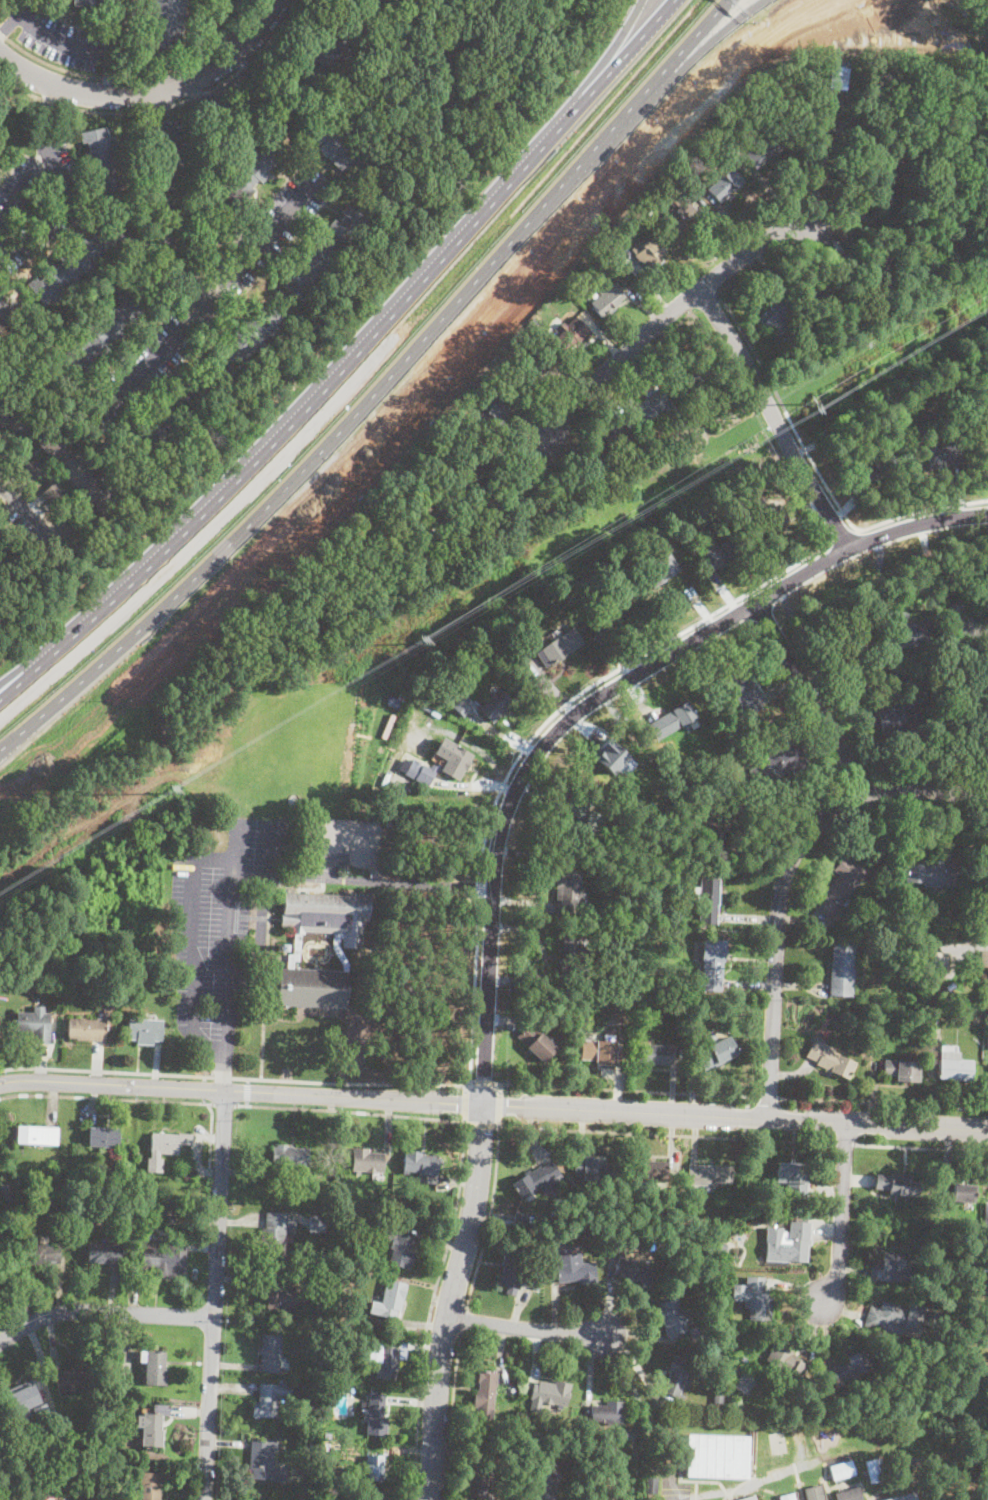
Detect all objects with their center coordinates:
building: (86, 2)
building: (163, 23)
road: (9, 26)
parking lot: (62, 37)
road: (709, 41)
road: (61, 43)
building: (332, 54)
building: (835, 54)
road: (244, 62)
road: (598, 62)
road: (245, 67)
road: (110, 74)
building: (837, 76)
road: (136, 77)
road: (229, 91)
road: (197, 92)
road: (152, 96)
building: (34, 101)
road: (71, 107)
road: (159, 109)
road: (44, 116)
building: (837, 129)
building: (337, 147)
building: (763, 151)
building: (101, 164)
building: (896, 166)
building: (676, 168)
road: (52, 176)
building: (242, 180)
building: (726, 184)
parking lot: (56, 205)
road: (167, 206)
building: (679, 212)
parking lot: (267, 231)
building: (324, 252)
building: (647, 252)
building: (76, 263)
building: (605, 265)
building: (878, 268)
building: (817, 291)
building: (0, 295)
road: (209, 300)
building: (607, 300)
building: (7, 312)
road: (670, 315)
building: (774, 315)
building: (532, 319)
building: (571, 334)
building: (97, 338)
building: (245, 342)
road: (348, 357)
building: (790, 357)
parking lot: (139, 370)
building: (533, 371)
building: (695, 376)
building: (867, 390)
road: (378, 391)
building: (976, 394)
power tower: (809, 399)
building: (651, 406)
road: (784, 408)
building: (939, 409)
building: (172, 414)
building: (494, 415)
building: (13, 416)
road: (774, 421)
building: (613, 435)
building: (983, 437)
building: (3, 440)
road: (804, 447)
building: (941, 455)
building: (872, 465)
building: (33, 468)
building: (471, 470)
building: (75, 472)
building: (734, 477)
building: (54, 493)
road: (850, 501)
building: (418, 505)
road: (23, 509)
road: (530, 509)
road: (922, 511)
building: (770, 514)
building: (76, 516)
building: (41, 526)
road: (840, 536)
building: (418, 538)
building: (661, 542)
building: (719, 553)
building: (603, 563)
park: (16, 567)
building: (660, 570)
building: (606, 615)
building: (964, 624)
building: (908, 632)
power tower: (427, 638)
building: (559, 648)
building: (518, 658)
building: (850, 661)
building: (495, 663)
building: (882, 679)
building: (744, 692)
building: (445, 699)
road: (814, 699)
building: (462, 704)
building: (496, 706)
building: (894, 718)
building: (672, 721)
building: (444, 725)
road: (531, 741)
building: (423, 745)
building: (610, 754)
building: (732, 757)
building: (456, 763)
building: (779, 764)
building: (421, 770)
power tower: (175, 788)
building: (391, 816)
building: (585, 817)
building: (719, 819)
road: (275, 847)
road: (496, 865)
building: (930, 872)
road: (309, 876)
road: (786, 878)
road: (413, 883)
building: (841, 884)
building: (568, 893)
building: (708, 896)
building: (672, 908)
building: (326, 915)
parking lot: (230, 918)
road: (226, 943)
building: (623, 943)
building: (280, 946)
road: (192, 949)
building: (964, 949)
building: (294, 951)
building: (339, 951)
building: (938, 955)
building: (984, 959)
building: (571, 960)
building: (712, 964)
building: (841, 969)
building: (621, 970)
building: (47, 976)
building: (78, 977)
building: (933, 978)
building: (18, 980)
road: (266, 981)
building: (987, 985)
building: (312, 988)
park: (414, 991)
building: (974, 999)
building: (106, 1007)
building: (620, 1011)
building: (879, 1021)
building: (35, 1023)
building: (87, 1029)
building: (145, 1030)
building: (827, 1034)
building: (987, 1041)
building: (855, 1042)
building: (539, 1043)
building: (603, 1051)
building: (715, 1052)
building: (654, 1054)
building: (830, 1059)
building: (987, 1063)
building: (953, 1068)
building: (902, 1070)
road: (227, 1078)
road: (237, 1079)
road: (206, 1080)
road: (248, 1082)
road: (112, 1083)
road: (483, 1083)
road: (465, 1089)
road: (205, 1090)
road: (501, 1090)
road: (626, 1091)
road: (247, 1092)
road: (106, 1096)
road: (769, 1098)
road: (247, 1103)
road: (225, 1104)
road: (883, 1104)
road: (500, 1107)
road: (464, 1108)
road: (606, 1110)
road: (350, 1113)
road: (480, 1125)
building: (38, 1135)
road: (210, 1135)
road: (666, 1135)
building: (103, 1137)
building: (169, 1142)
road: (845, 1144)
road: (921, 1148)
building: (291, 1156)
building: (368, 1160)
building: (422, 1164)
building: (599, 1170)
building: (646, 1171)
building: (709, 1174)
building: (793, 1177)
building: (535, 1181)
building: (900, 1189)
building: (188, 1191)
building: (962, 1192)
building: (6, 1194)
building: (324, 1195)
building: (756, 1196)
building: (186, 1214)
road: (489, 1214)
building: (986, 1214)
road: (843, 1215)
building: (171, 1217)
building: (522, 1218)
building: (318, 1223)
building: (276, 1233)
building: (537, 1242)
building: (346, 1243)
building: (788, 1243)
building: (723, 1248)
building: (400, 1249)
building: (43, 1253)
building: (106, 1253)
building: (366, 1255)
building: (322, 1257)
building: (157, 1258)
building: (896, 1263)
building: (514, 1271)
building: (634, 1271)
building: (576, 1273)
building: (324, 1275)
building: (536, 1280)
building: (277, 1293)
road: (215, 1295)
building: (758, 1299)
building: (389, 1300)
road: (431, 1310)
road: (103, 1311)
building: (895, 1315)
building: (671, 1317)
building: (936, 1319)
road: (463, 1320)
building: (724, 1324)
road: (521, 1328)
building: (332, 1332)
building: (697, 1332)
building: (271, 1352)
building: (723, 1358)
building: (784, 1360)
building: (387, 1364)
building: (852, 1365)
building: (154, 1366)
building: (676, 1377)
building: (71, 1379)
building: (744, 1384)
building: (485, 1388)
building: (330, 1393)
building: (553, 1393)
building: (318, 1394)
building: (717, 1398)
building: (269, 1399)
building: (27, 1404)
building: (606, 1412)
building: (376, 1415)
road: (453, 1415)
building: (153, 1423)
building: (545, 1427)
building: (629, 1434)
building: (328, 1437)
building: (311, 1445)
building: (717, 1455)
building: (262, 1458)
building: (328, 1463)
building: (372, 1468)
building: (874, 1468)
building: (842, 1473)
building: (543, 1482)
building: (482, 1483)
building: (650, 1483)
building: (151, 1486)
parking lot: (674, 1491)
building: (814, 1492)
building: (848, 1494)
building: (45, 1496)
building: (787, 1496)
building: (904, 1497)
building: (749, 1498)

